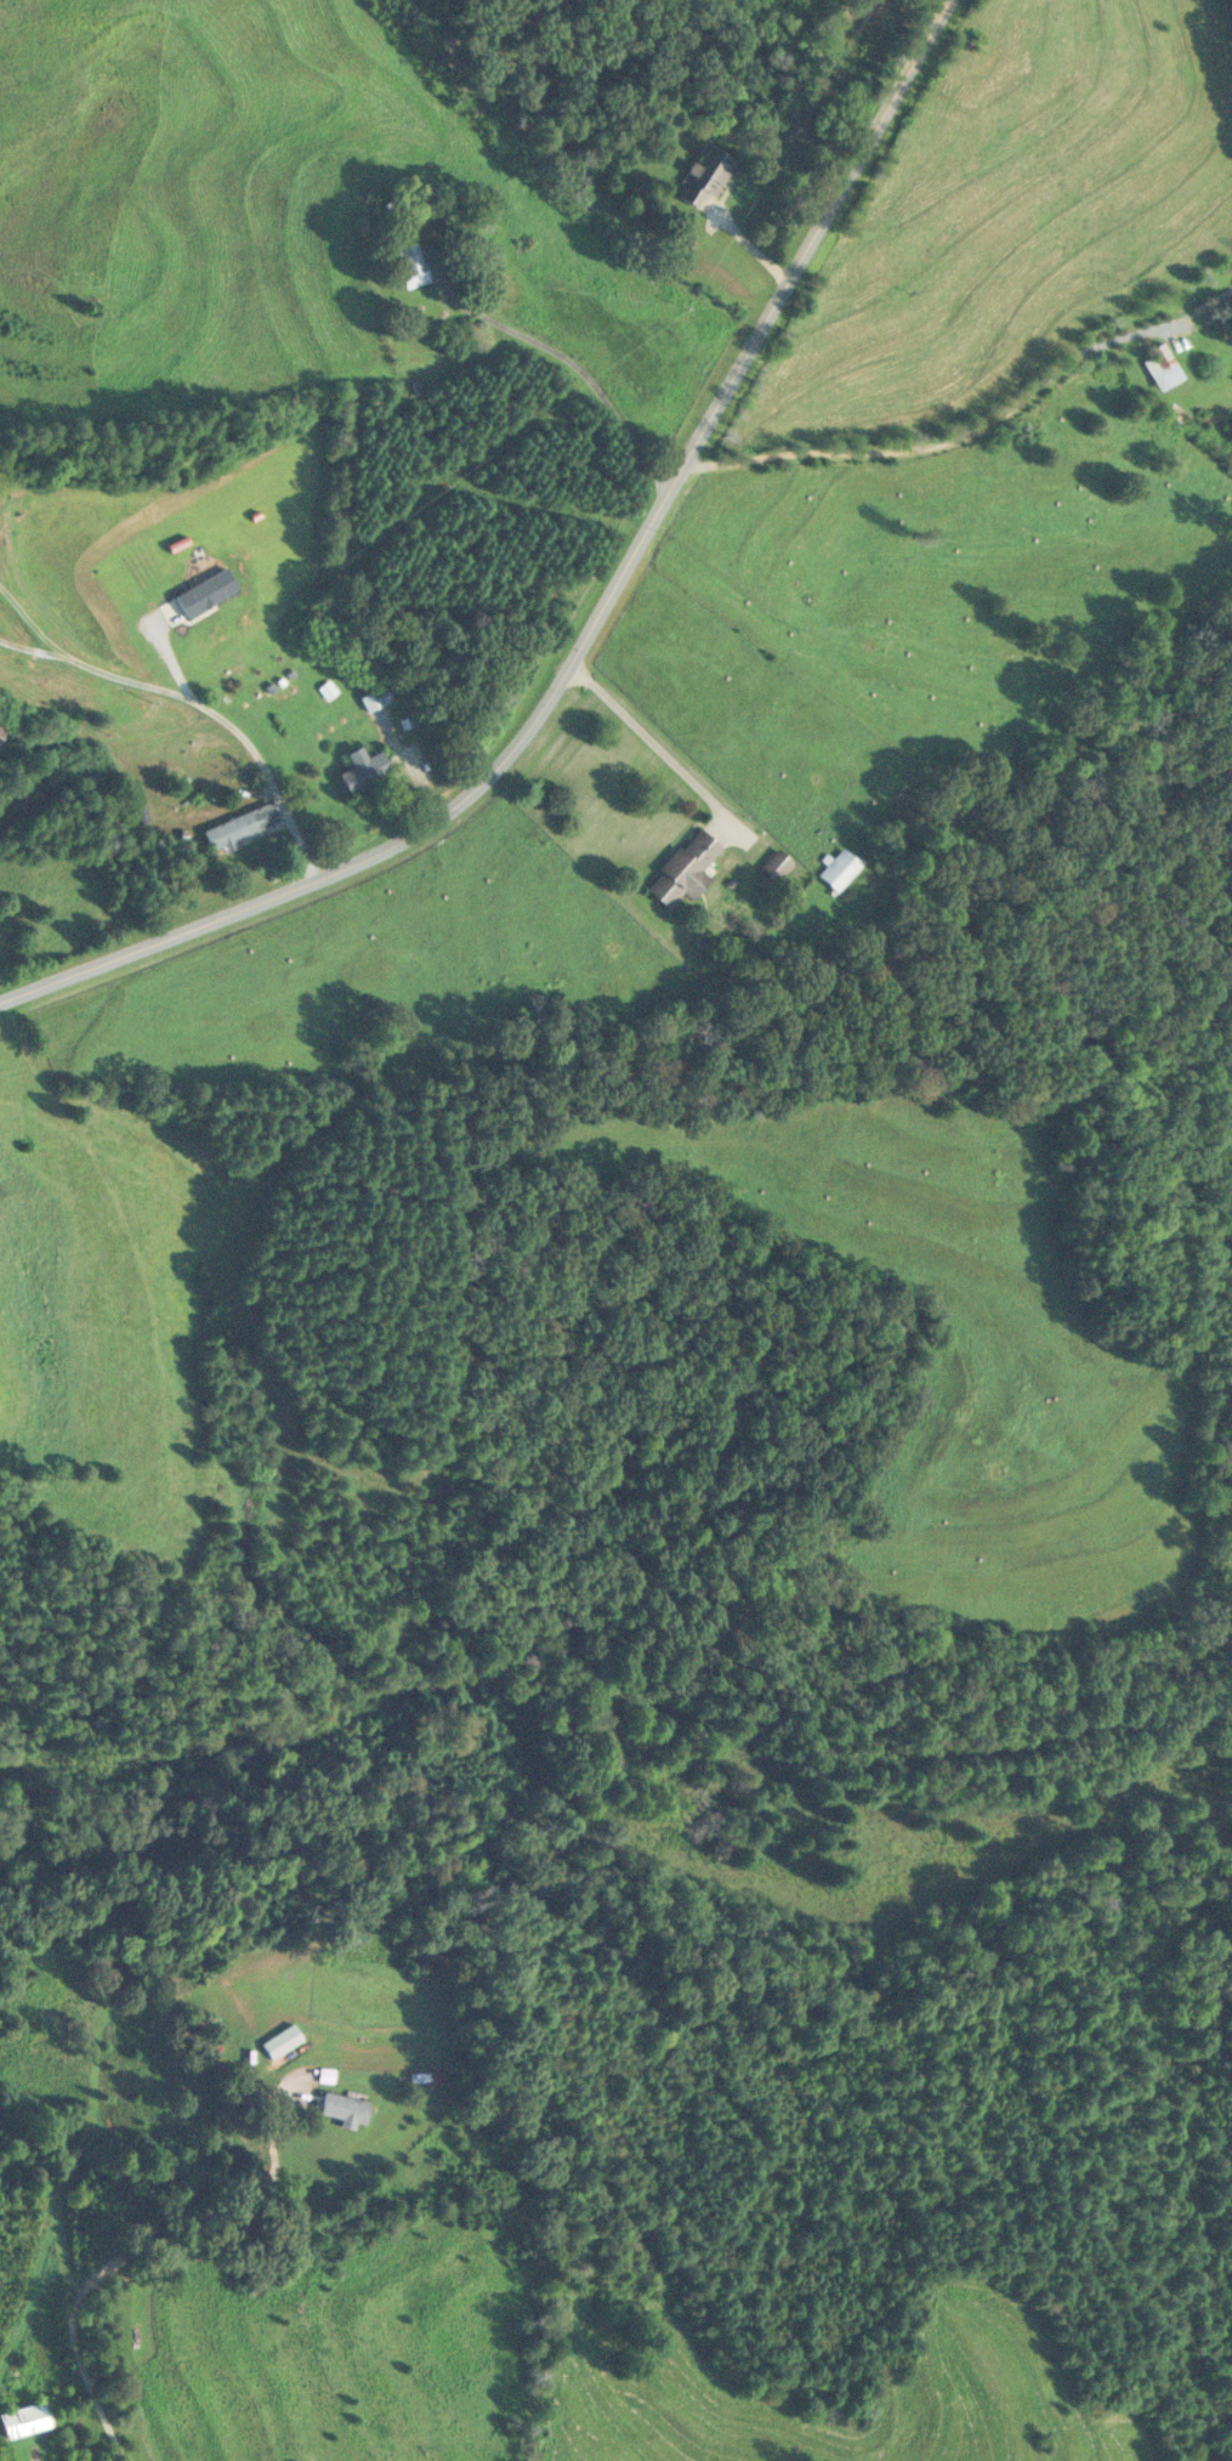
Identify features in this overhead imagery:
building: (705, 177)
building: (528, 244)
building: (410, 263)
building: (1225, 311)
road: (577, 367)
building: (1160, 367)
road: (941, 438)
road: (591, 631)
building: (376, 696)
road: (203, 710)
building: (0, 727)
road: (655, 743)
building: (363, 767)
building: (239, 824)
building: (776, 863)
building: (839, 867)
building: (685, 868)
road: (0, 2028)
building: (427, 2077)
building: (344, 2108)
road: (143, 2249)
building: (24, 2420)

